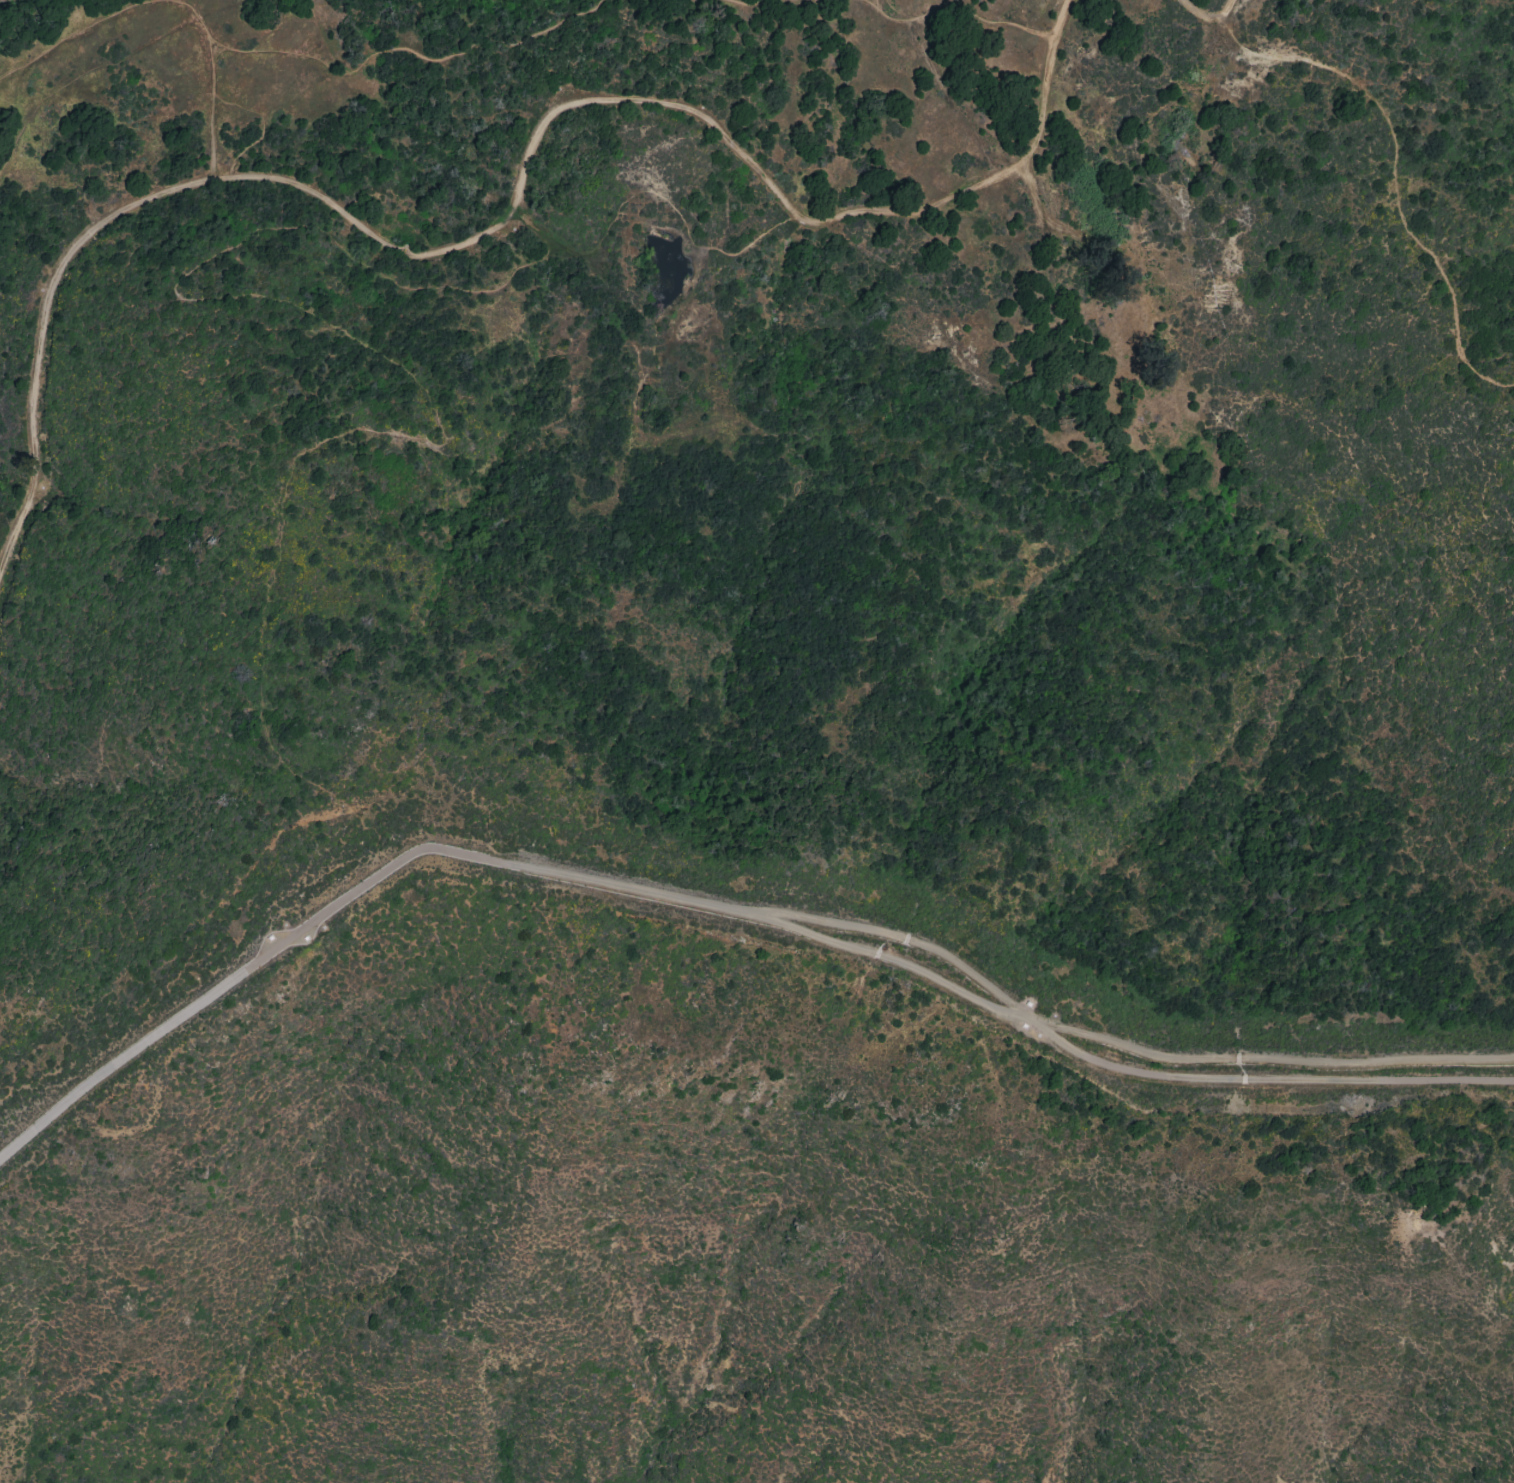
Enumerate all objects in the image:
road: (962, 7)
road: (189, 13)
road: (960, 15)
road: (1211, 16)
road: (87, 27)
road: (270, 52)
road: (951, 101)
road: (209, 103)
road: (3, 168)
road: (1391, 176)
road: (670, 206)
road: (500, 219)
road: (399, 366)
road: (719, 908)

